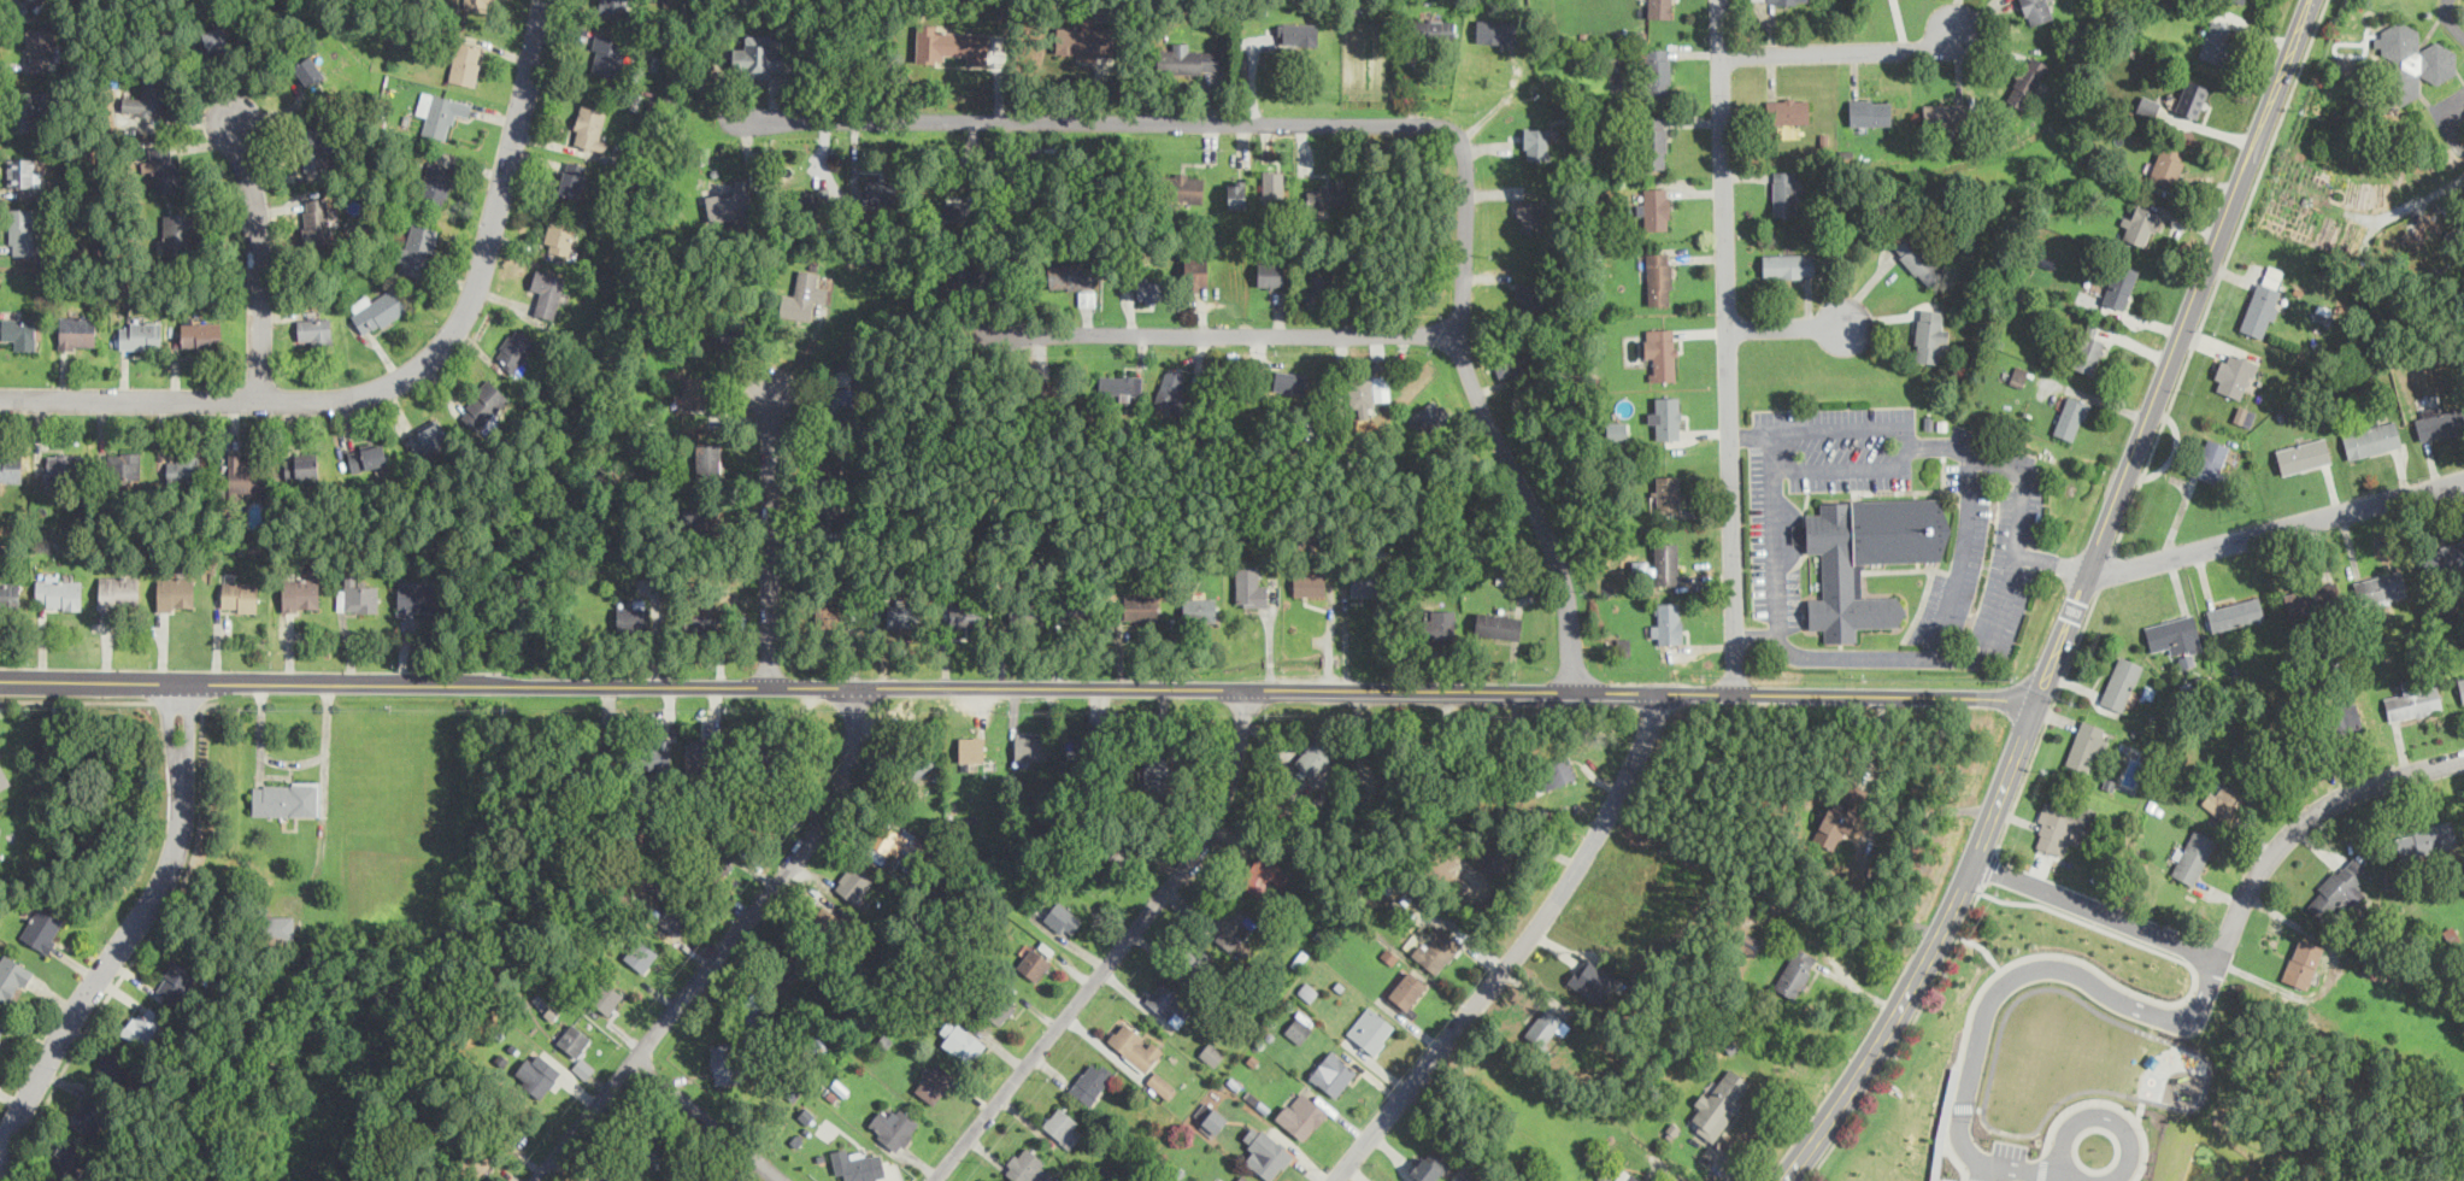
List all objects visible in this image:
building: (1781, 0)
building: (2242, 0)
building: (31, 1)
building: (477, 4)
building: (613, 6)
building: (1659, 7)
building: (2036, 10)
road: (2450, 20)
building: (1436, 28)
building: (1495, 29)
building: (1423, 30)
building: (1299, 33)
building: (217, 40)
building: (1087, 40)
building: (2216, 40)
building: (949, 43)
building: (39, 48)
road: (1842, 52)
building: (607, 54)
building: (758, 58)
building: (1186, 58)
building: (465, 63)
building: (2411, 63)
building: (307, 69)
building: (1658, 72)
building: (2027, 81)
building: (148, 98)
building: (2190, 99)
building: (2148, 106)
building: (25, 110)
building: (1788, 110)
building: (1870, 111)
building: (440, 113)
building: (1945, 114)
road: (1095, 123)
building: (588, 127)
building: (1656, 141)
building: (1535, 142)
building: (314, 147)
building: (2168, 163)
building: (165, 168)
building: (22, 171)
building: (571, 177)
building: (1272, 183)
building: (436, 184)
building: (1183, 187)
building: (878, 190)
building: (1236, 192)
building: (1784, 192)
building: (1327, 194)
building: (813, 200)
building: (731, 201)
building: (1654, 206)
building: (954, 210)
building: (1529, 215)
building: (317, 221)
building: (2140, 225)
building: (22, 231)
building: (181, 233)
building: (559, 235)
building: (417, 248)
building: (1917, 258)
road: (257, 259)
building: (1788, 264)
building: (976, 270)
building: (1195, 270)
building: (965, 271)
building: (1270, 272)
building: (1070, 274)
road: (2219, 274)
building: (1659, 277)
building: (2118, 284)
building: (1148, 288)
building: (1319, 289)
building: (547, 294)
building: (801, 295)
building: (1529, 295)
building: (1087, 296)
building: (2262, 305)
building: (376, 310)
road: (1788, 328)
building: (314, 330)
building: (19, 331)
building: (77, 331)
building: (733, 331)
building: (140, 334)
building: (200, 334)
building: (1928, 334)
road: (1205, 336)
road: (1728, 345)
building: (514, 348)
building: (2086, 348)
building: (1660, 353)
road: (804, 356)
building: (1509, 360)
building: (2235, 374)
building: (2018, 375)
road: (406, 380)
building: (1290, 380)
building: (1121, 383)
building: (1171, 387)
building: (1381, 388)
building: (1360, 390)
building: (694, 392)
building: (1051, 393)
building: (842, 404)
building: (482, 405)
road: (1484, 412)
building: (2245, 415)
building: (1428, 416)
building: (1669, 416)
building: (2070, 416)
building: (2440, 421)
building: (1617, 430)
road: (1752, 434)
building: (429, 437)
building: (2372, 437)
building: (2304, 454)
building: (367, 456)
building: (831, 456)
building: (707, 458)
building: (2211, 459)
building: (124, 464)
building: (301, 466)
road: (1851, 466)
building: (11, 468)
building: (63, 468)
building: (184, 468)
building: (242, 475)
building: (1665, 492)
building: (829, 517)
building: (700, 518)
road: (2272, 529)
parking lot: (1888, 537)
road: (771, 540)
building: (1868, 557)
building: (2445, 557)
road: (1962, 558)
building: (1666, 562)
road: (2048, 562)
road: (2107, 569)
building: (1309, 582)
building: (1364, 583)
building: (1249, 584)
building: (2380, 588)
building: (58, 592)
building: (119, 592)
building: (176, 592)
building: (10, 593)
building: (301, 593)
building: (240, 595)
building: (357, 595)
building: (416, 597)
building: (2312, 598)
road: (2071, 603)
building: (2453, 605)
building: (1137, 606)
building: (1199, 609)
building: (964, 610)
building: (1076, 610)
building: (1028, 612)
building: (2234, 612)
building: (633, 615)
building: (900, 615)
building: (701, 618)
building: (831, 619)
building: (1668, 622)
building: (1439, 623)
building: (1498, 624)
road: (1993, 633)
building: (2174, 634)
road: (1756, 635)
building: (1624, 645)
building: (2121, 681)
road: (1016, 686)
building: (2460, 686)
road: (76, 700)
road: (177, 701)
building: (2412, 701)
building: (2344, 718)
road: (2046, 719)
building: (1030, 746)
building: (2087, 746)
building: (971, 747)
building: (1075, 747)
building: (1381, 750)
building: (1427, 751)
building: (1494, 751)
building: (657, 753)
building: (698, 753)
building: (1315, 756)
building: (778, 757)
building: (594, 758)
building: (919, 764)
building: (1556, 771)
building: (4, 776)
building: (1157, 777)
building: (286, 798)
building: (1856, 799)
building: (2225, 800)
building: (1834, 821)
building: (0, 825)
building: (2060, 825)
building: (884, 838)
road: (1865, 839)
building: (2425, 839)
building: (1122, 848)
building: (2193, 856)
building: (1506, 859)
building: (719, 862)
road: (1990, 865)
building: (1270, 870)
building: (853, 881)
building: (2337, 892)
building: (671, 916)
building: (1063, 918)
building: (1233, 918)
building: (824, 921)
road: (2229, 924)
road: (131, 927)
building: (278, 927)
building: (42, 928)
building: (1750, 942)
road: (1983, 945)
road: (141, 946)
road: (727, 947)
road: (1121, 948)
building: (1436, 948)
road: (1517, 953)
building: (641, 954)
building: (1196, 960)
building: (1033, 963)
building: (2301, 963)
building: (788, 964)
building: (1795, 971)
building: (12, 977)
road: (2106, 977)
building: (1592, 980)
building: (176, 981)
road: (1998, 987)
building: (1406, 989)
building: (1307, 991)
building: (606, 995)
building: (1169, 1003)
building: (998, 1007)
building: (758, 1010)
building: (142, 1023)
building: (2, 1027)
building: (1545, 1027)
building: (1370, 1028)
building: (1298, 1029)
road: (1901, 1035)
building: (575, 1039)
building: (962, 1039)
building: (1135, 1045)
building: (1212, 1053)
building: (723, 1057)
track: (2081, 1060)
road: (1356, 1062)
building: (113, 1065)
building: (537, 1073)
building: (1333, 1073)
building: (1092, 1080)
building: (934, 1082)
building: (1162, 1083)
road: (2112, 1103)
building: (1719, 1104)
road: (1963, 1105)
park: (2304, 1106)
road: (1980, 1107)
road: (2140, 1111)
building: (88, 1114)
building: (1300, 1114)
building: (806, 1115)
road: (2097, 1115)
road: (705, 1121)
building: (1213, 1121)
building: (894, 1126)
building: (1063, 1126)
building: (647, 1145)
parking lot: (2010, 1148)
building: (1265, 1152)
building: (67, 1161)
building: (476, 1161)
building: (860, 1164)
building: (1025, 1165)
building: (1428, 1165)
road: (2043, 1165)
building: (1465, 1175)
building: (612, 1176)
building: (1630, 1176)
building: (1241, 1179)
road: (1970, 1180)

